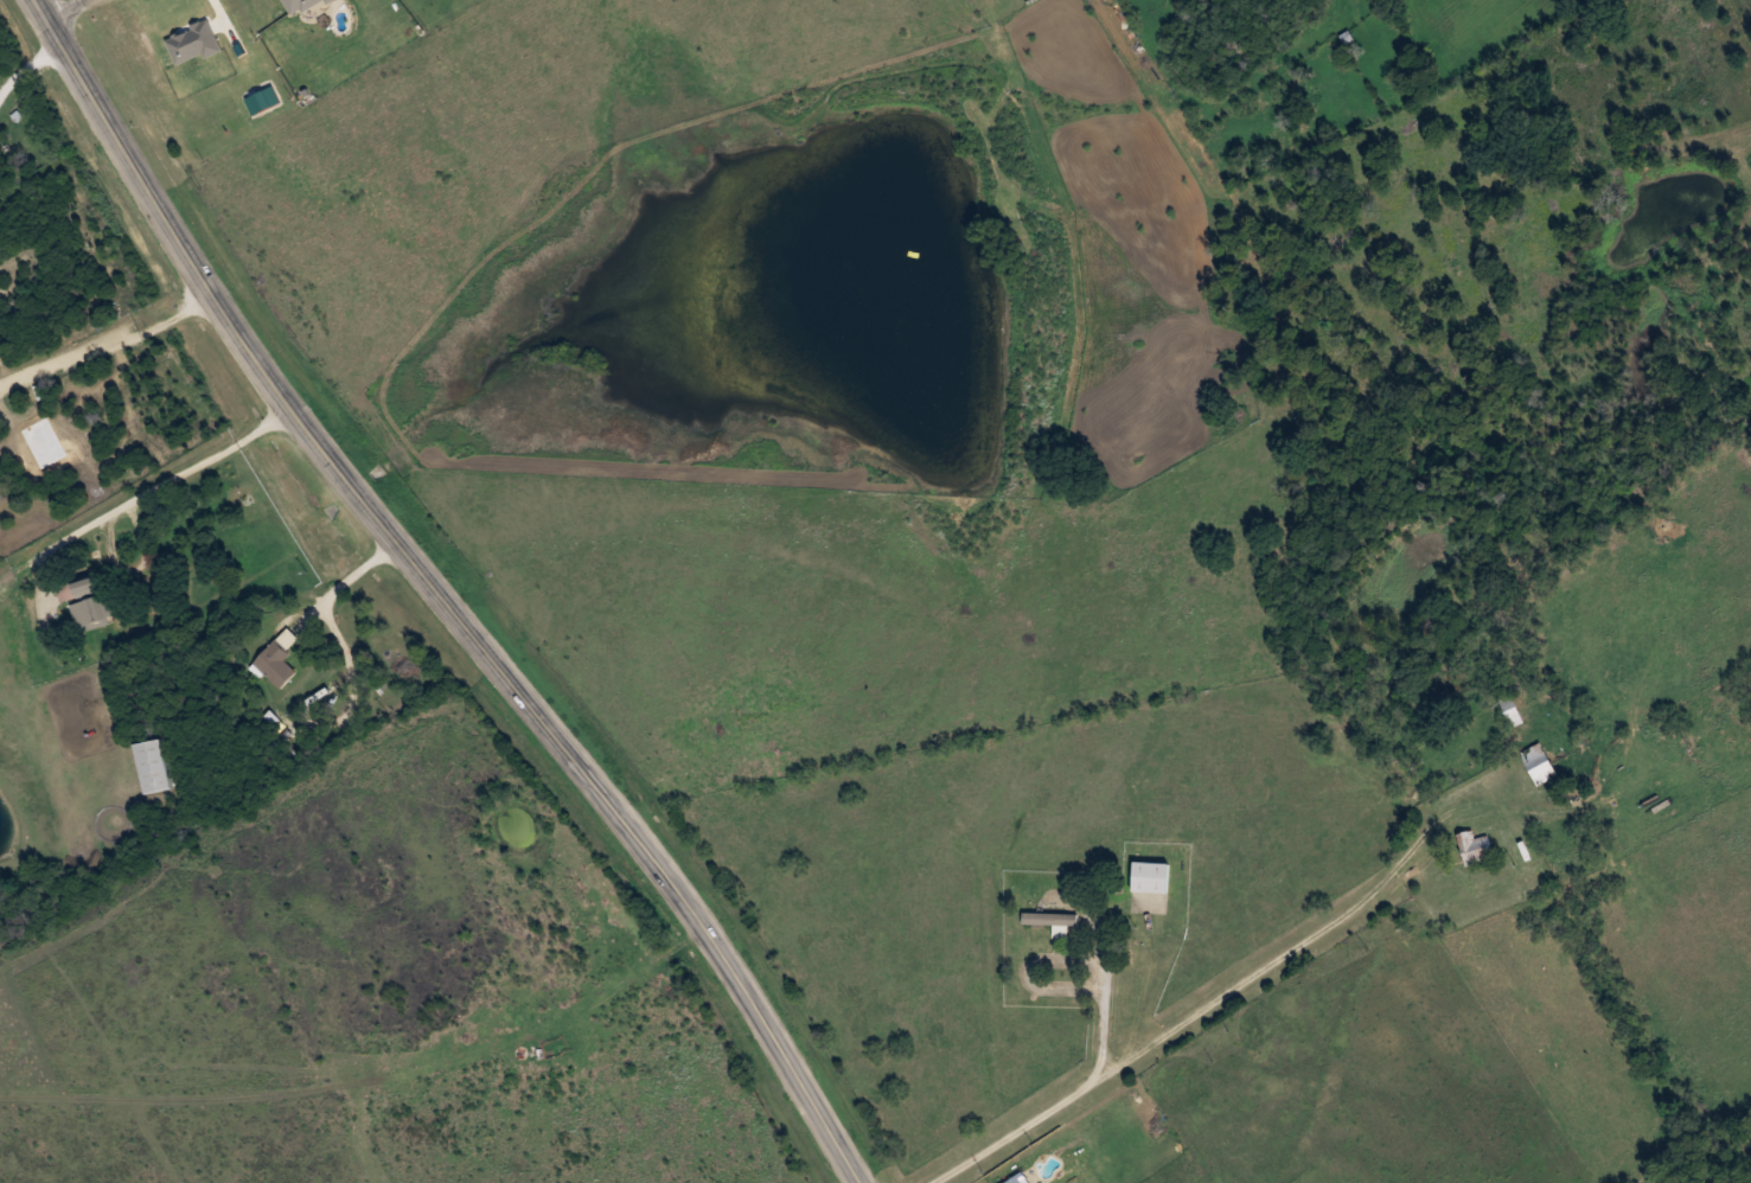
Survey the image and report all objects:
road: (72, 11)
building: (83, 586)
road: (445, 594)
building: (91, 612)
building: (275, 664)
building: (1509, 708)
building: (1538, 763)
building: (151, 766)
building: (1474, 848)
building: (1151, 880)
building: (1050, 919)
road: (1395, 1062)
building: (1014, 1179)

